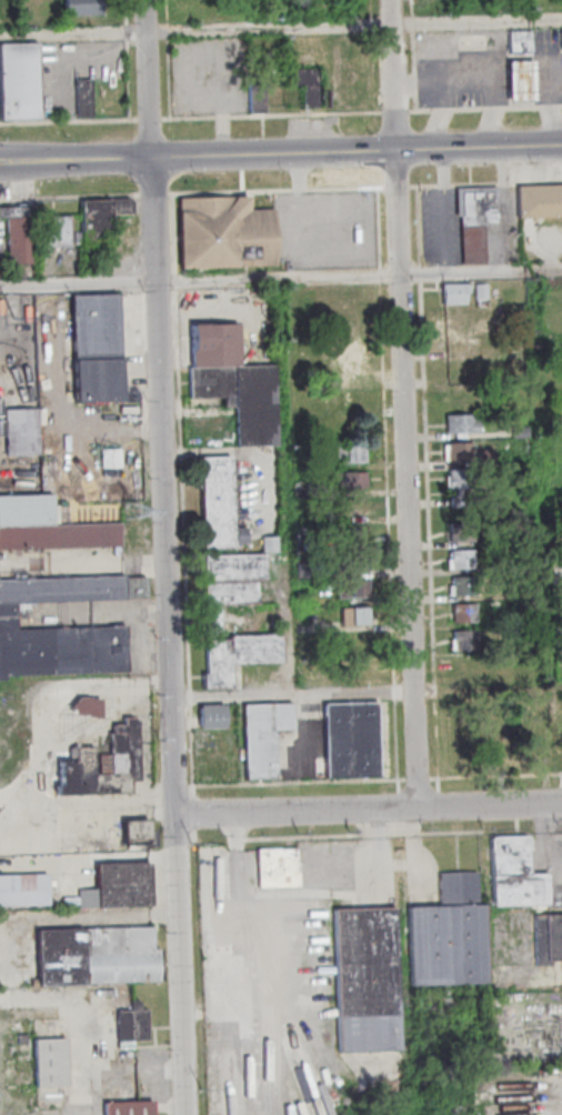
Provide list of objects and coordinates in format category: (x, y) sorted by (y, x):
building: (83, 7)
road: (476, 22)
road: (270, 28)
road: (73, 33)
building: (561, 39)
building: (521, 41)
road: (414, 56)
road: (374, 57)
road: (170, 58)
road: (127, 59)
building: (19, 80)
road: (549, 80)
building: (522, 81)
road: (522, 81)
road: (451, 82)
building: (308, 86)
building: (83, 98)
building: (257, 99)
road: (485, 110)
road: (395, 112)
road: (553, 112)
road: (492, 114)
road: (438, 115)
road: (190, 117)
road: (280, 153)
road: (399, 188)
road: (414, 188)
road: (154, 194)
road: (170, 194)
road: (70, 197)
building: (540, 201)
road: (445, 211)
building: (99, 218)
building: (478, 221)
parking lot: (324, 228)
parking lot: (442, 228)
building: (56, 230)
building: (19, 233)
building: (225, 233)
road: (360, 277)
road: (79, 283)
building: (482, 292)
building: (455, 294)
building: (214, 346)
building: (97, 348)
building: (458, 395)
building: (243, 399)
building: (347, 399)
road: (407, 403)
building: (461, 424)
building: (21, 433)
building: (522, 433)
building: (460, 452)
building: (351, 454)
building: (110, 456)
building: (486, 458)
road: (426, 474)
building: (352, 481)
road: (387, 484)
road: (290, 485)
building: (460, 485)
road: (183, 488)
building: (219, 505)
building: (358, 506)
power tower: (129, 513)
building: (48, 529)
building: (462, 533)
building: (271, 544)
road: (168, 556)
building: (359, 559)
building: (463, 560)
building: (498, 567)
building: (234, 569)
building: (520, 583)
building: (464, 586)
building: (72, 590)
building: (351, 590)
building: (559, 591)
building: (231, 593)
building: (464, 614)
building: (357, 617)
building: (213, 621)
building: (559, 625)
building: (521, 637)
building: (465, 641)
building: (58, 650)
building: (561, 653)
building: (239, 656)
building: (466, 665)
road: (291, 692)
building: (211, 717)
building: (263, 739)
building: (352, 741)
building: (104, 766)
road: (417, 780)
road: (433, 780)
road: (369, 808)
building: (134, 833)
building: (510, 856)
building: (278, 868)
building: (119, 887)
building: (520, 891)
building: (23, 892)
building: (449, 936)
building: (554, 938)
building: (97, 956)
building: (368, 982)
building: (132, 1024)
building: (50, 1064)
building: (130, 1108)

